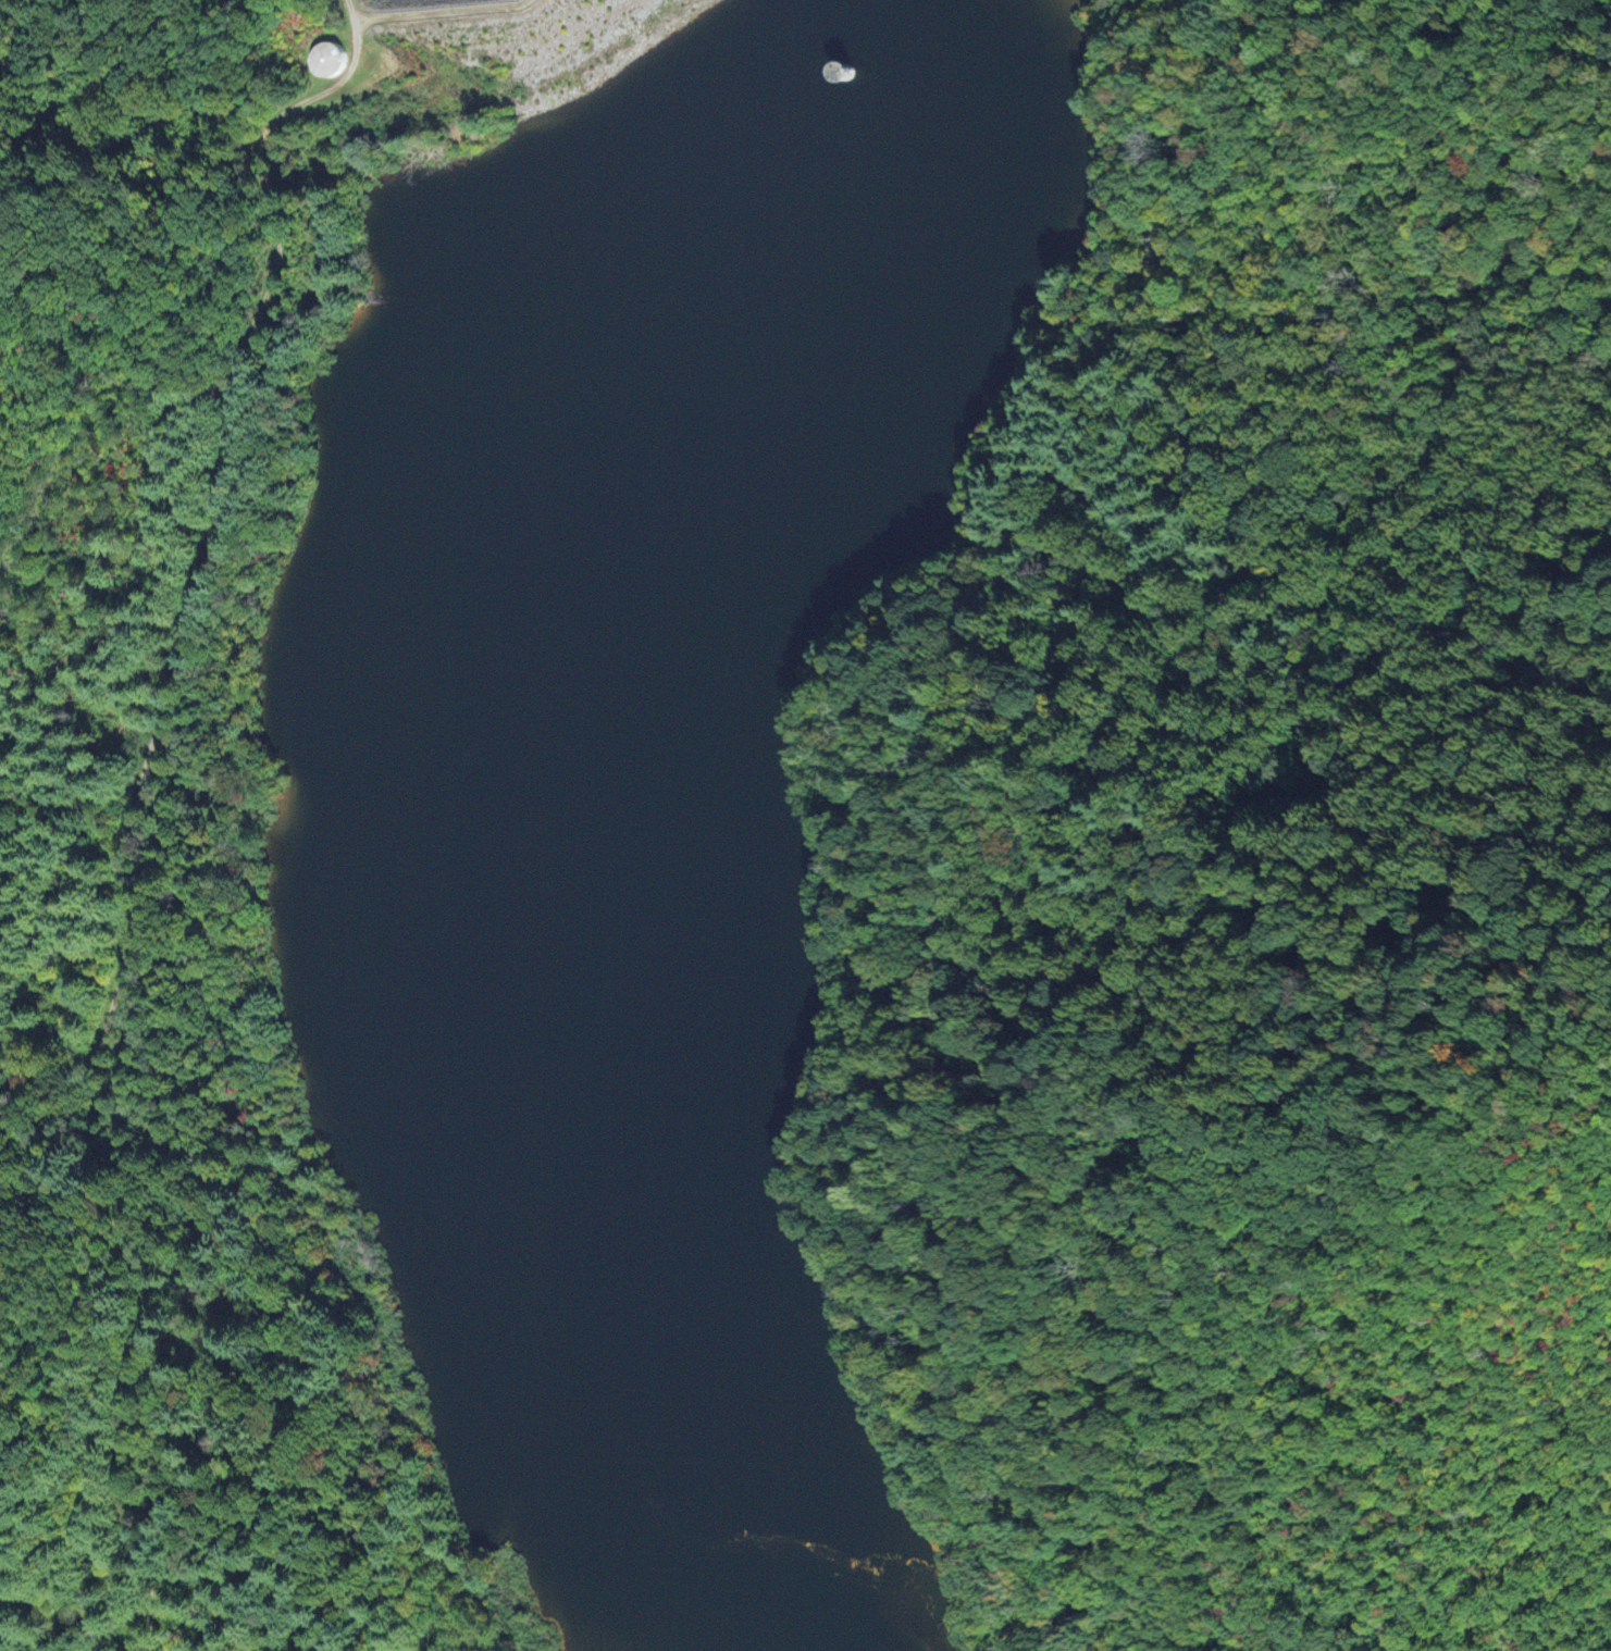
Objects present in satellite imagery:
dam: (560, 33)
building: (323, 59)
road: (159, 712)

